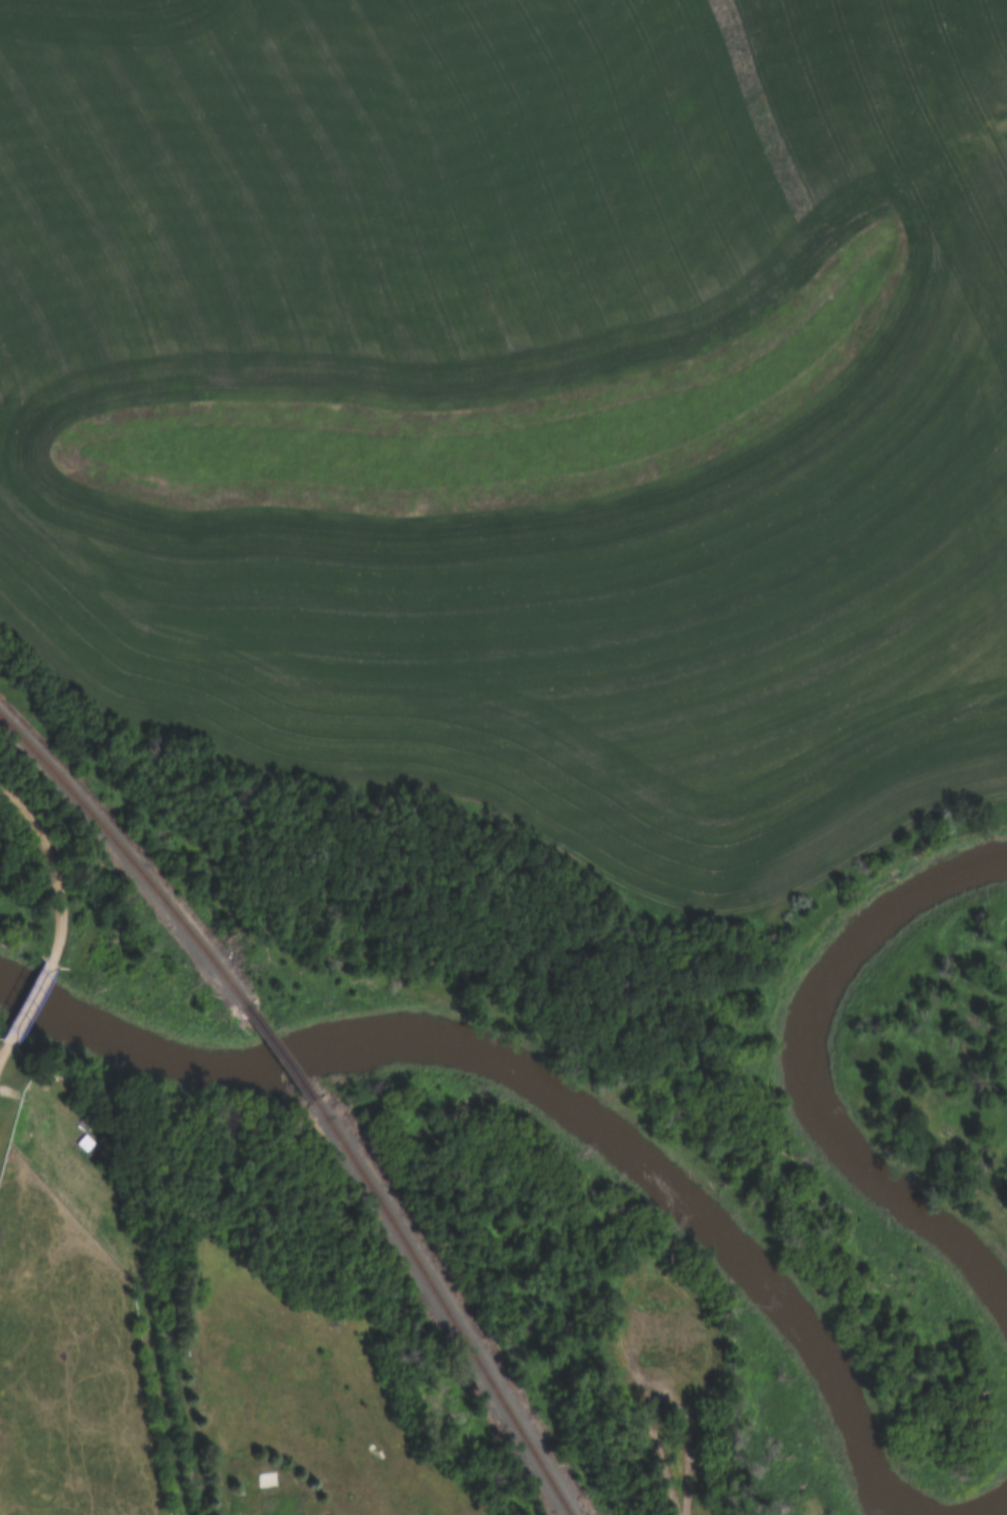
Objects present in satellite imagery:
railway: (126, 858)
road: (53, 869)
road: (28, 1000)
road: (2, 1042)
road: (4, 1043)
railway: (279, 1052)
river: (802, 1080)
river: (538, 1096)
railway: (443, 1307)
building: (668, 1327)
road: (681, 1432)
river: (995, 1501)

